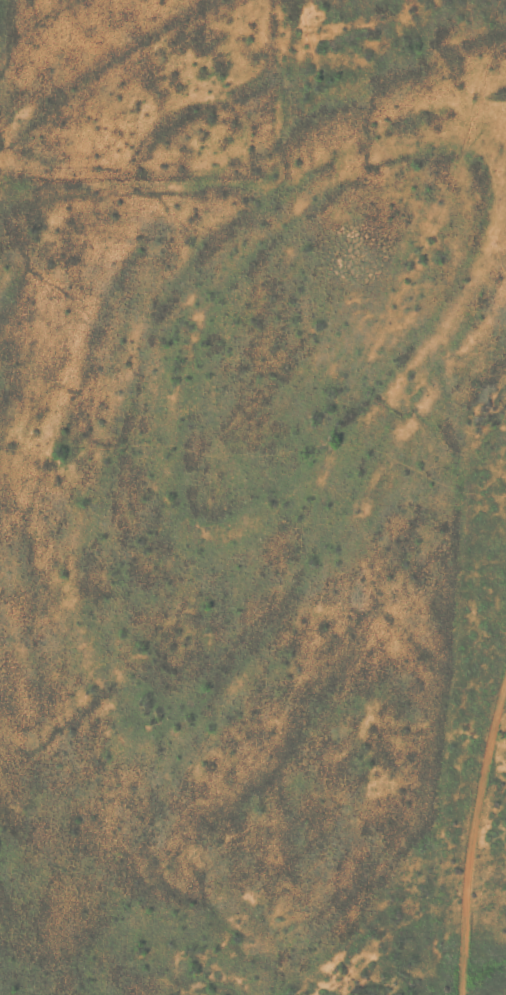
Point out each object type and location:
road: (231, 300)

